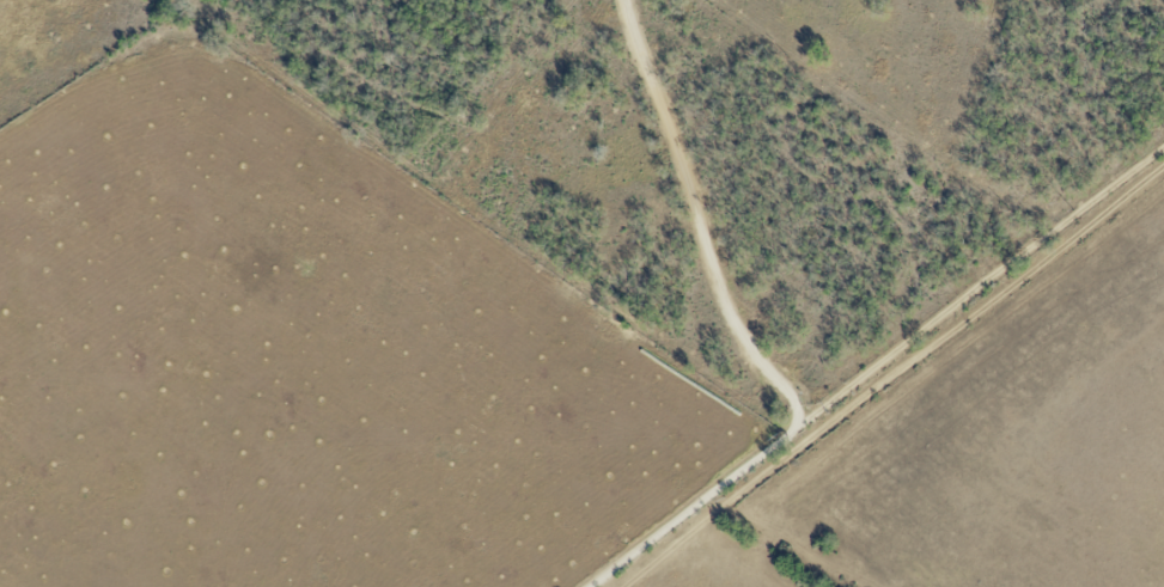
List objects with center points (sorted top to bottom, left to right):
road: (705, 215)
road: (876, 366)

